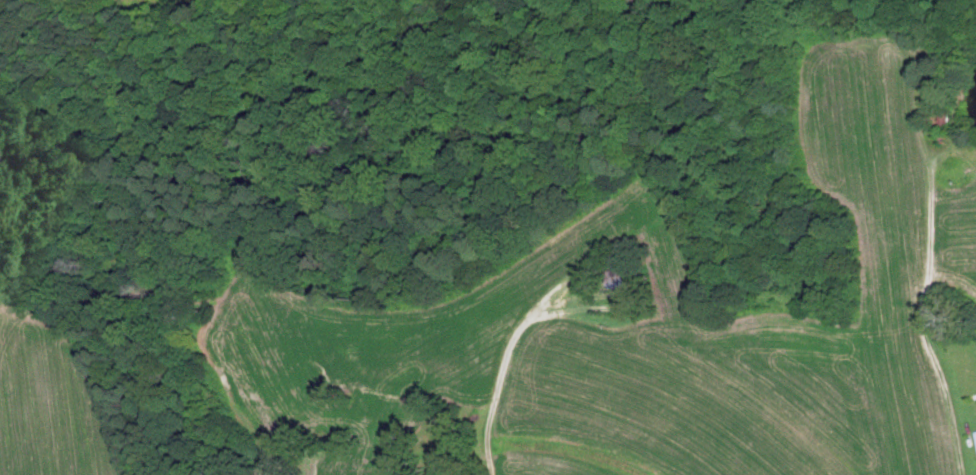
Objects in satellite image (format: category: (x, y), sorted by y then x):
road: (496, 379)
building: (975, 432)

